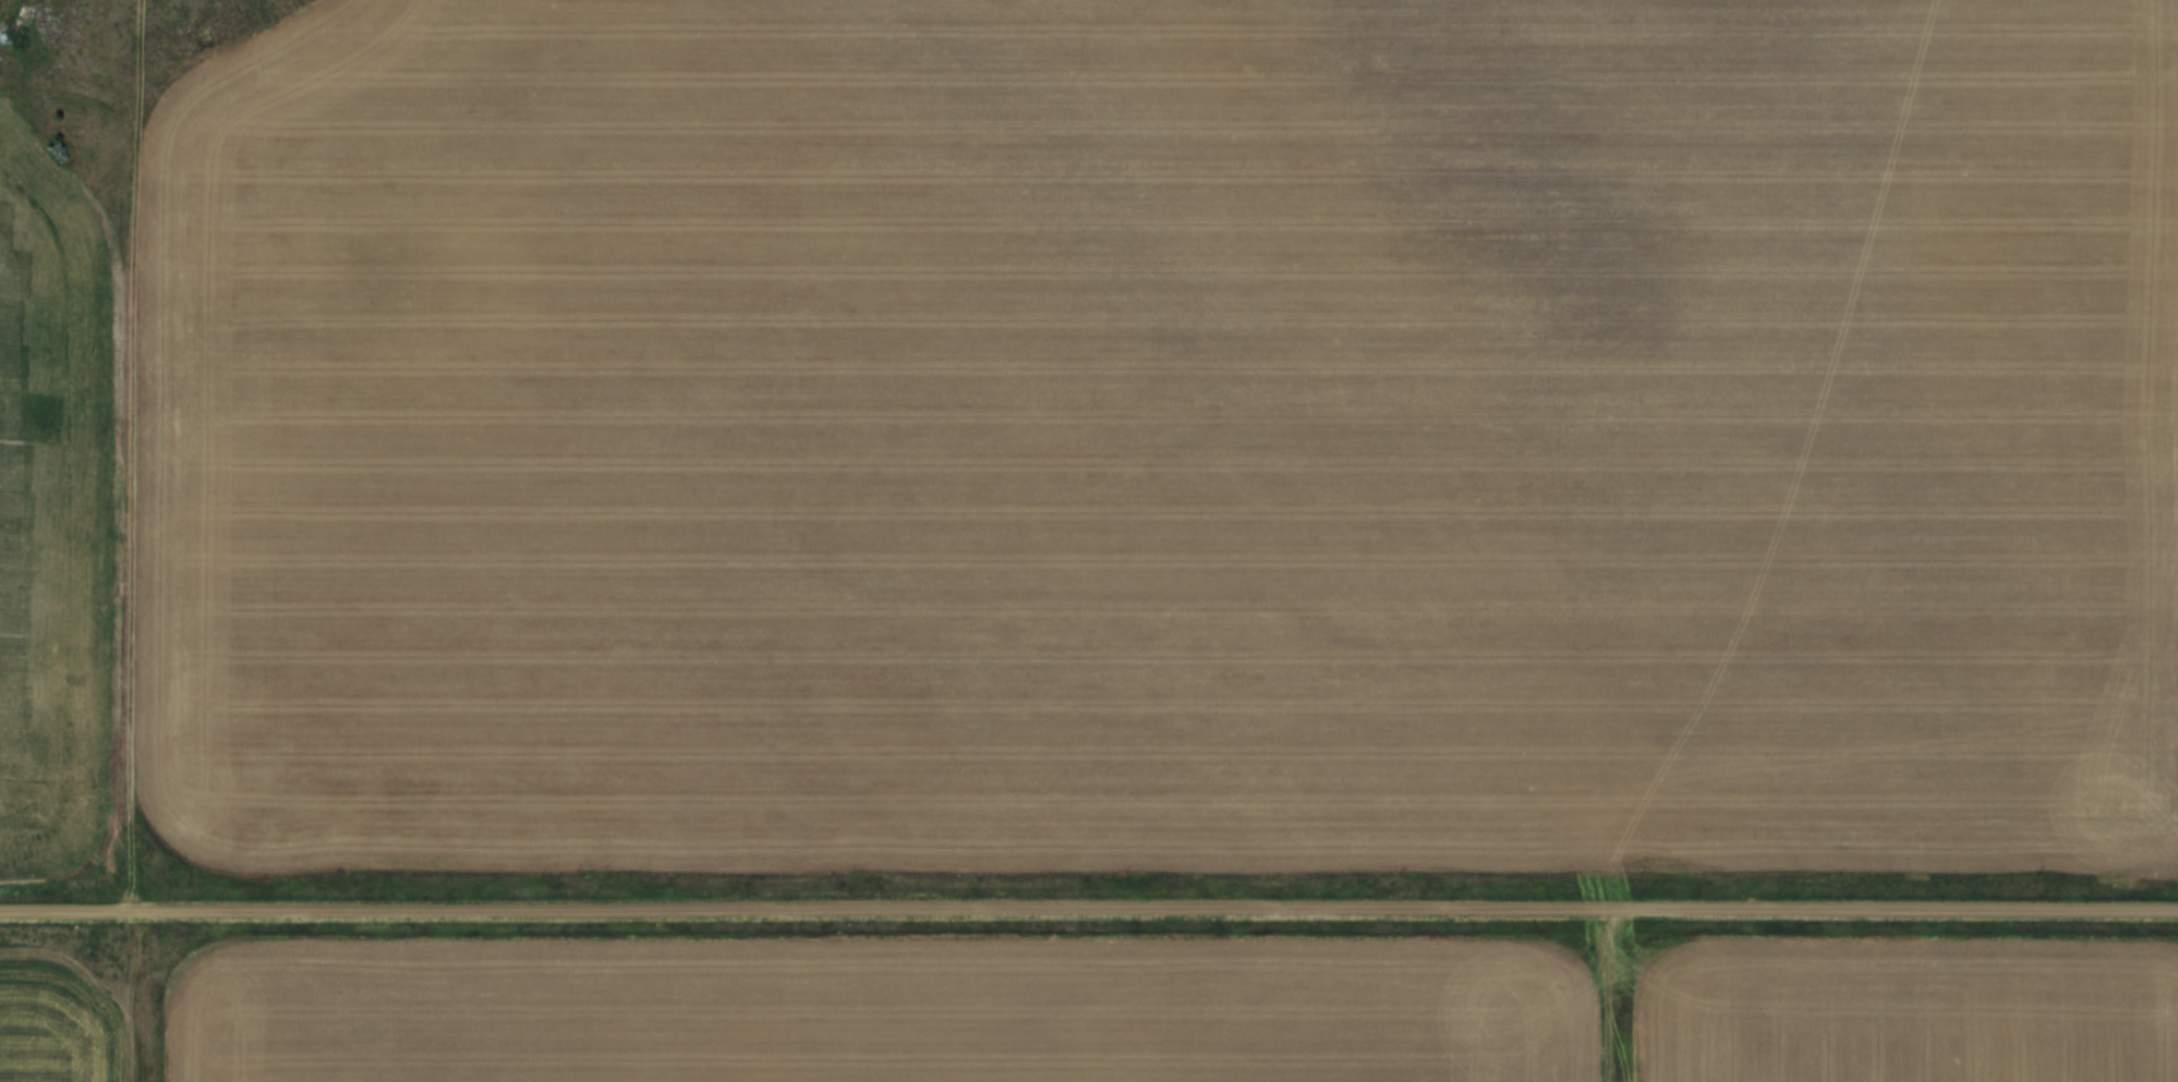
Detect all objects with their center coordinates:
road: (131, 457)
road: (1089, 914)
road: (1609, 998)

